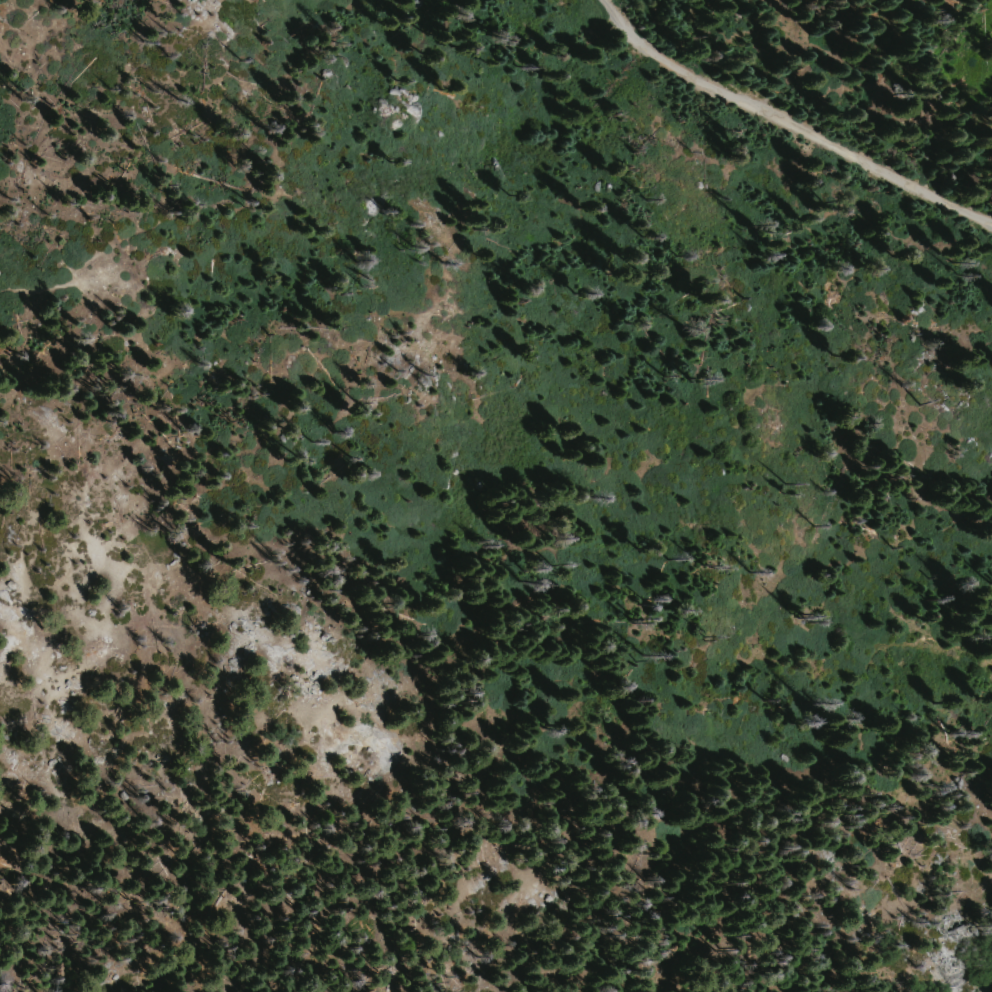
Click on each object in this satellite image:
road: (839, 130)

